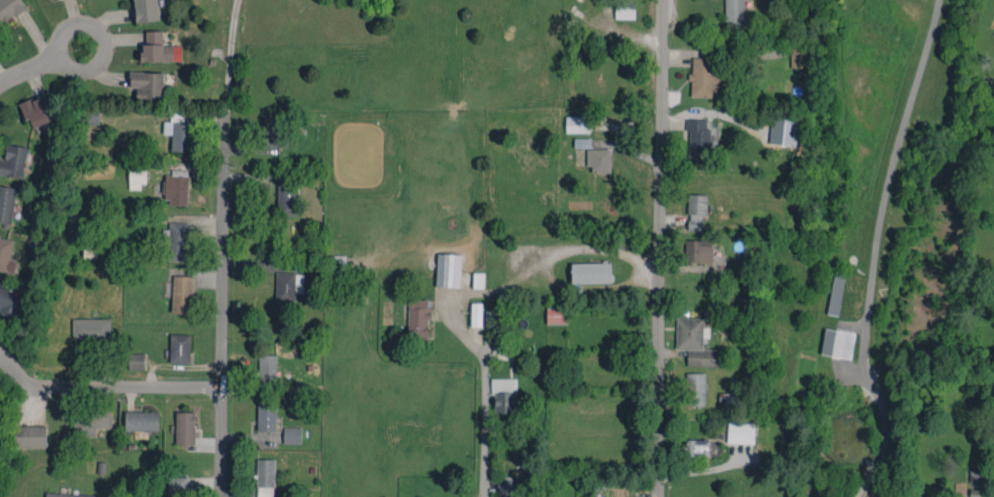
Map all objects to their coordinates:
building: (10, 9)
building: (625, 9)
building: (146, 10)
building: (734, 14)
road: (66, 32)
road: (33, 39)
building: (159, 48)
building: (799, 56)
road: (229, 57)
road: (62, 68)
building: (703, 75)
building: (147, 85)
building: (36, 110)
building: (90, 116)
building: (577, 124)
building: (783, 131)
building: (270, 132)
building: (178, 134)
building: (698, 138)
building: (582, 142)
building: (598, 159)
building: (13, 161)
building: (176, 188)
building: (286, 196)
building: (6, 203)
building: (696, 212)
building: (177, 241)
road: (874, 247)
road: (661, 248)
building: (698, 250)
building: (6, 255)
building: (337, 265)
building: (448, 270)
building: (589, 274)
building: (478, 280)
building: (288, 285)
building: (181, 294)
building: (835, 294)
building: (10, 301)
road: (220, 306)
building: (556, 313)
building: (476, 314)
building: (418, 319)
building: (91, 328)
building: (695, 342)
building: (837, 343)
building: (179, 348)
building: (136, 360)
building: (267, 368)
road: (105, 387)
building: (695, 389)
building: (503, 395)
building: (266, 417)
building: (90, 420)
building: (141, 420)
building: (185, 427)
building: (740, 432)
building: (292, 434)
building: (29, 436)
road: (486, 442)
building: (701, 447)
building: (974, 476)
building: (265, 478)
building: (177, 483)
building: (503, 485)
building: (68, 495)
building: (596, 496)

